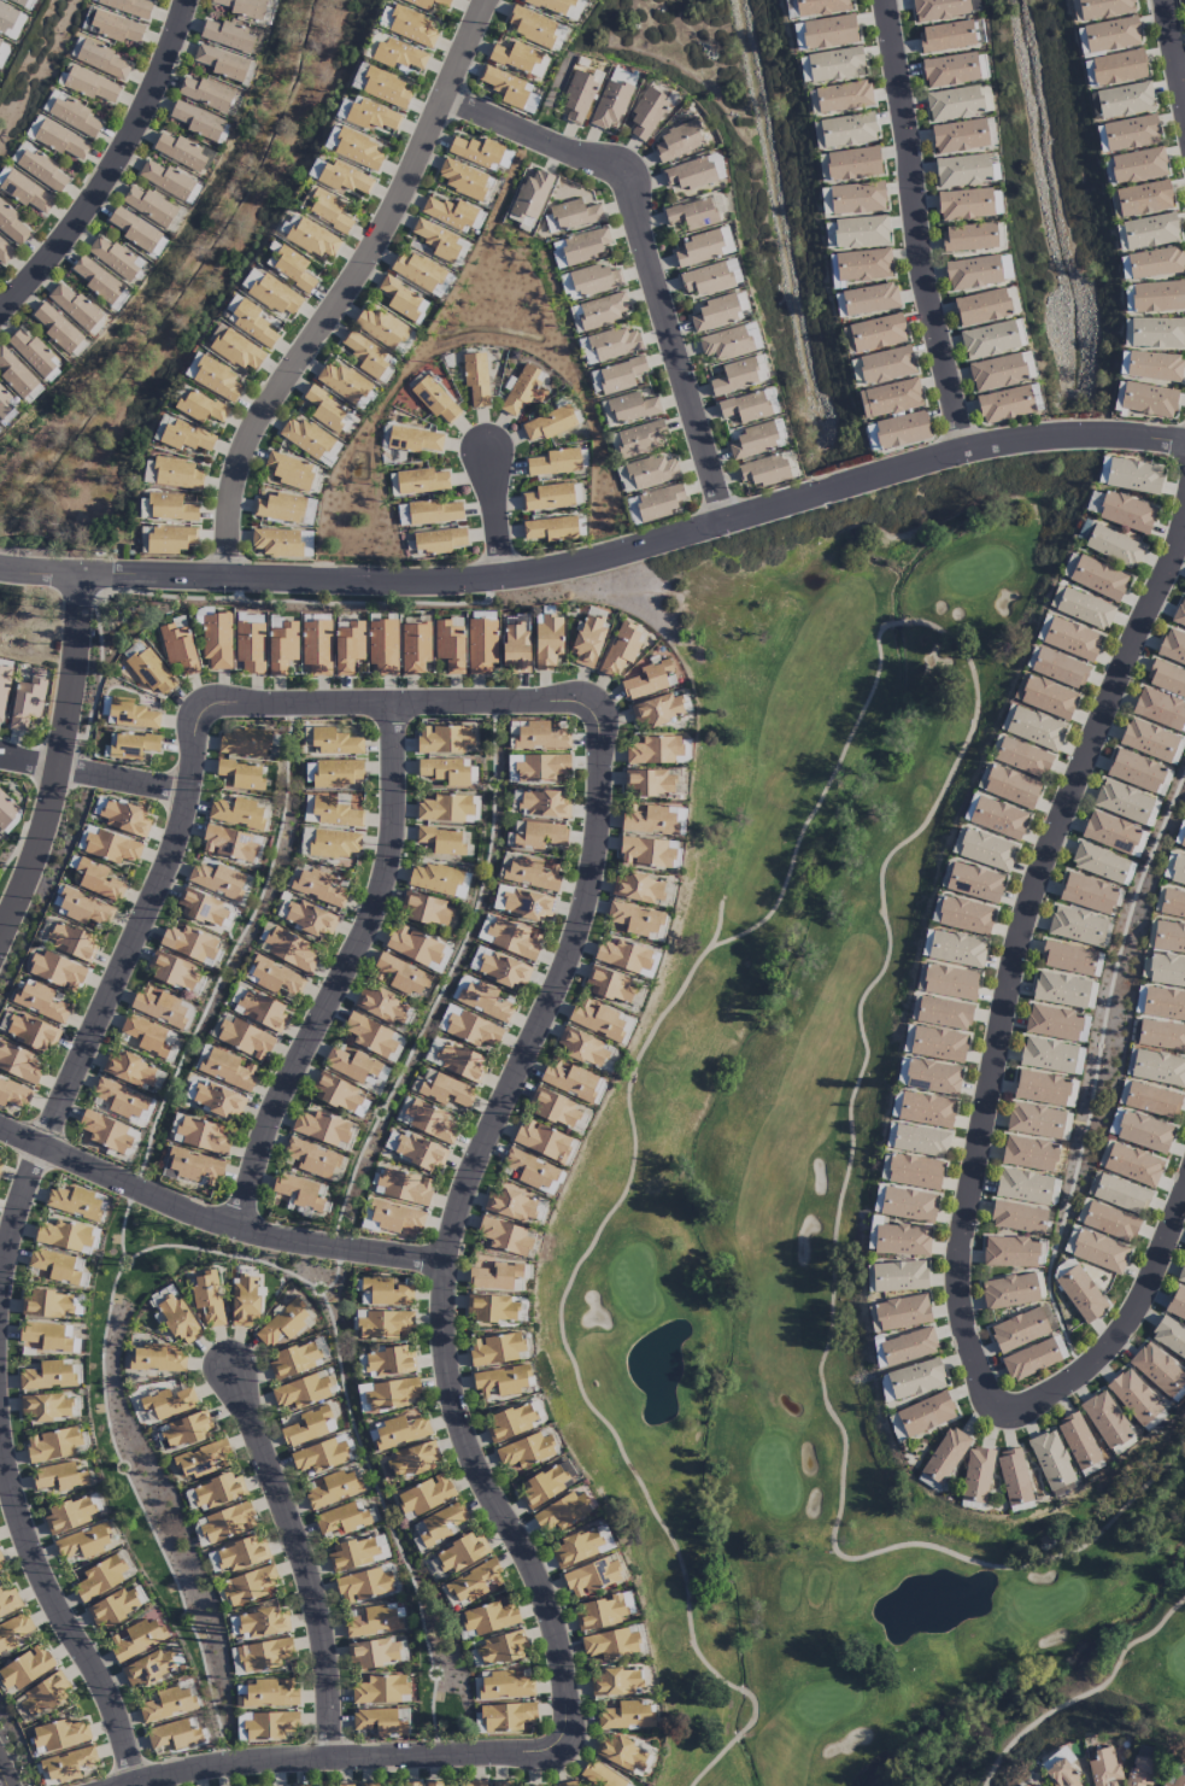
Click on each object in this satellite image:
building: (1184, 1)
building: (20, 2)
building: (427, 4)
building: (558, 6)
building: (129, 7)
building: (244, 7)
building: (820, 7)
building: (939, 8)
building: (1103, 8)
building: (385, 16)
building: (6, 18)
building: (112, 27)
building: (411, 27)
building: (535, 29)
building: (829, 31)
building: (227, 35)
building: (1110, 35)
building: (798, 36)
building: (945, 36)
building: (0, 42)
building: (398, 54)
building: (520, 58)
building: (101, 59)
road: (1172, 60)
building: (219, 62)
building: (835, 64)
building: (1117, 68)
building: (804, 69)
building: (950, 70)
building: (358, 76)
building: (90, 86)
building: (504, 86)
road: (1181, 87)
building: (385, 88)
building: (205, 94)
building: (576, 96)
building: (843, 96)
building: (530, 99)
building: (1124, 100)
building: (609, 104)
building: (954, 104)
building: (646, 113)
building: (74, 116)
building: (372, 116)
building: (195, 121)
building: (33, 127)
building: (847, 130)
building: (1131, 133)
building: (960, 136)
building: (330, 139)
building: (61, 141)
building: (676, 141)
building: (357, 150)
building: (178, 151)
building: (475, 151)
building: (852, 163)
building: (1138, 165)
building: (41, 169)
road: (113, 169)
building: (315, 169)
building: (961, 170)
building: (688, 174)
building: (344, 178)
building: (462, 178)
building: (165, 180)
building: (25, 193)
building: (856, 198)
building: (528, 199)
building: (1142, 199)
building: (964, 204)
building: (148, 205)
building: (324, 209)
building: (447, 212)
building: (691, 213)
building: (571, 215)
building: (11, 226)
road: (914, 227)
building: (133, 228)
building: (861, 232)
building: (1149, 232)
building: (968, 238)
building: (312, 239)
building: (436, 240)
building: (725, 240)
building: (579, 247)
building: (698, 248)
building: (5, 253)
building: (115, 258)
road: (645, 260)
building: (1155, 263)
building: (862, 265)
building: (1004, 267)
building: (292, 268)
building: (973, 273)
building: (421, 274)
building: (95, 279)
building: (705, 279)
building: (248, 280)
building: (593, 280)
road: (346, 289)
building: (274, 295)
building: (1157, 297)
building: (401, 299)
building: (869, 299)
building: (75, 306)
building: (981, 306)
building: (599, 311)
building: (715, 312)
building: (252, 324)
building: (55, 327)
building: (380, 328)
building: (876, 333)
building: (1157, 333)
building: (989, 340)
building: (728, 342)
building: (608, 345)
building: (237, 351)
building: (31, 352)
building: (365, 353)
building: (886, 364)
building: (1154, 367)
building: (996, 371)
building: (14, 374)
building: (620, 375)
building: (734, 376)
building: (213, 377)
building: (475, 379)
building: (346, 385)
building: (522, 391)
building: (890, 398)
building: (435, 400)
building: (1148, 400)
building: (5, 404)
building: (1004, 404)
building: (198, 406)
building: (744, 406)
building: (630, 408)
building: (327, 411)
building: (548, 423)
building: (902, 429)
building: (181, 435)
building: (870, 437)
building: (305, 438)
building: (639, 438)
building: (415, 440)
building: (752, 440)
building: (329, 453)
building: (553, 462)
building: (288, 470)
building: (651, 470)
building: (763, 470)
building: (1102, 470)
building: (174, 474)
building: (1133, 476)
building: (421, 481)
building: (547, 497)
building: (657, 503)
building: (170, 508)
building: (280, 508)
building: (307, 511)
building: (433, 513)
building: (1126, 513)
building: (401, 515)
road: (493, 519)
building: (551, 529)
building: (170, 539)
building: (440, 540)
building: (276, 543)
building: (306, 544)
building: (1114, 546)
road: (599, 558)
building: (1098, 579)
building: (1184, 593)
building: (1084, 609)
building: (1179, 614)
building: (1070, 639)
building: (216, 640)
building: (547, 642)
building: (587, 642)
building: (250, 646)
building: (347, 646)
building: (382, 646)
building: (448, 646)
building: (481, 646)
building: (281, 648)
building: (316, 648)
building: (415, 648)
building: (515, 648)
building: (1172, 648)
building: (178, 649)
building: (620, 649)
building: (147, 668)
building: (1058, 668)
building: (1166, 679)
building: (645, 680)
building: (2, 690)
building: (1048, 697)
building: (27, 703)
road: (458, 707)
building: (1160, 709)
building: (656, 710)
building: (130, 714)
building: (1034, 728)
building: (536, 736)
building: (444, 739)
building: (1148, 740)
building: (245, 743)
building: (335, 743)
building: (130, 745)
building: (655, 750)
building: (1022, 757)
road: (29, 765)
building: (511, 767)
building: (541, 768)
building: (445, 771)
building: (1136, 771)
road: (57, 772)
building: (332, 773)
building: (241, 775)
road: (122, 780)
building: (647, 783)
building: (1010, 786)
building: (1124, 802)
building: (541, 804)
building: (444, 808)
building: (6, 809)
building: (330, 812)
building: (237, 813)
building: (122, 816)
building: (997, 818)
building: (652, 819)
building: (1109, 832)
road: (915, 833)
building: (539, 835)
building: (442, 841)
building: (1183, 841)
building: (229, 843)
building: (333, 844)
building: (110, 847)
building: (985, 850)
building: (645, 853)
building: (1098, 862)
building: (1174, 868)
building: (529, 872)
building: (434, 879)
building: (98, 880)
building: (217, 880)
building: (974, 883)
building: (318, 888)
building: (635, 888)
building: (1086, 894)
building: (521, 902)
building: (1173, 904)
building: (83, 908)
building: (201, 908)
building: (426, 909)
building: (964, 915)
building: (309, 919)
building: (633, 919)
building: (1077, 926)
building: (1168, 937)
building: (509, 938)
road: (1022, 938)
building: (72, 942)
building: (189, 944)
building: (417, 948)
road: (134, 949)
building: (956, 949)
building: (289, 950)
building: (627, 956)
building: (475, 959)
building: (1067, 959)
building: (501, 970)
building: (57, 971)
building: (1167, 971)
building: (172, 972)
road: (347, 973)
building: (399, 976)
building: (272, 977)
building: (950, 982)
building: (611, 985)
building: (1060, 990)
building: (235, 997)
building: (480, 999)
building: (40, 1001)
building: (1163, 1003)
building: (380, 1006)
building: (159, 1007)
building: (260, 1011)
building: (943, 1013)
building: (598, 1020)
building: (442, 1023)
building: (1052, 1023)
building: (473, 1030)
building: (33, 1031)
building: (145, 1035)
building: (368, 1035)
building: (1161, 1035)
building: (242, 1038)
building: (907, 1038)
building: (938, 1044)
building: (581, 1047)
building: (1046, 1055)
building: (460, 1061)
building: (609, 1061)
building: (18, 1064)
building: (224, 1067)
building: (356, 1068)
building: (1158, 1068)
building: (131, 1071)
building: (932, 1077)
building: (570, 1079)
building: (1040, 1088)
building: (441, 1089)
building: (335, 1093)
building: (13, 1094)
building: (213, 1099)
building: (121, 1101)
building: (1152, 1101)
building: (553, 1108)
building: (926, 1109)
building: (426, 1120)
building: (1034, 1120)
building: (1114, 1122)
building: (321, 1128)
building: (106, 1132)
building: (1144, 1132)
building: (203, 1136)
building: (541, 1141)
building: (917, 1141)
building: (416, 1150)
building: (1028, 1153)
building: (310, 1159)
building: (0, 1163)
building: (1132, 1165)
building: (192, 1167)
building: (532, 1170)
building: (914, 1171)
park: (816, 1179)
building: (403, 1187)
building: (1023, 1187)
building: (295, 1193)
building: (1117, 1194)
building: (878, 1199)
building: (75, 1202)
building: (510, 1205)
building: (908, 1205)
building: (1017, 1217)
building: (397, 1218)
road: (216, 1219)
building: (1109, 1222)
building: (872, 1230)
building: (63, 1235)
building: (505, 1236)
building: (902, 1240)
building: (1069, 1240)
road: (448, 1251)
building: (1009, 1252)
building: (1099, 1252)
building: (53, 1267)
building: (1062, 1267)
building: (492, 1273)
building: (1181, 1273)
building: (899, 1277)
building: (1009, 1290)
building: (385, 1293)
building: (1080, 1294)
building: (207, 1300)
building: (244, 1301)
building: (46, 1304)
building: (1177, 1305)
building: (491, 1308)
building: (902, 1312)
building: (177, 1319)
building: (281, 1324)
building: (383, 1324)
building: (1019, 1329)
road: (1116, 1336)
building: (1169, 1336)
building: (46, 1337)
building: (908, 1346)
building: (494, 1349)
building: (156, 1359)
building: (1031, 1359)
building: (293, 1360)
building: (388, 1362)
building: (1156, 1369)
building: (48, 1376)
building: (915, 1378)
building: (500, 1382)
building: (885, 1388)
building: (301, 1390)
building: (388, 1394)
building: (1133, 1396)
building: (168, 1403)
building: (46, 1406)
building: (925, 1415)
building: (1105, 1419)
building: (509, 1422)
building: (306, 1427)
building: (187, 1430)
building: (398, 1430)
building: (1077, 1440)
building: (53, 1445)
building: (524, 1452)
building: (319, 1456)
building: (944, 1456)
building: (203, 1459)
building: (413, 1459)
building: (1050, 1459)
building: (976, 1475)
building: (58, 1477)
building: (1014, 1480)
building: (544, 1486)
building: (333, 1489)
building: (218, 1491)
building: (424, 1494)
building: (562, 1512)
building: (69, 1515)
building: (341, 1519)
building: (228, 1522)
building: (441, 1523)
building: (83, 1541)
building: (581, 1546)
building: (460, 1552)
building: (352, 1553)
building: (242, 1554)
road: (303, 1560)
building: (1, 1564)
building: (591, 1575)
building: (98, 1577)
building: (474, 1582)
building: (363, 1585)
building: (248, 1586)
road: (687, 1595)
building: (8, 1601)
building: (113, 1606)
building: (599, 1612)
road: (61, 1614)
building: (489, 1617)
building: (372, 1621)
building: (262, 1622)
building: (13, 1630)
building: (609, 1642)
building: (499, 1649)
building: (374, 1652)
building: (263, 1655)
building: (25, 1667)
building: (148, 1667)
building: (614, 1681)
building: (504, 1686)
building: (380, 1690)
building: (45, 1693)
building: (269, 1693)
road: (1085, 1694)
building: (168, 1704)
building: (626, 1715)
building: (506, 1716)
building: (379, 1722)
building: (265, 1726)
building: (60, 1734)
building: (175, 1734)
building: (620, 1753)
building: (1055, 1758)
road: (311, 1761)
building: (65, 1765)
building: (1103, 1767)
building: (1139, 1772)
building: (598, 1775)
building: (1061, 1775)
road: (2, 1778)
building: (1173, 1780)
building: (438, 1784)
building: (471, 1784)
building: (303, 1785)
building: (344, 1785)
building: (372, 1785)
building: (409, 1785)
building: (504, 1785)
building: (568, 1785)
building: (1023, 1785)

